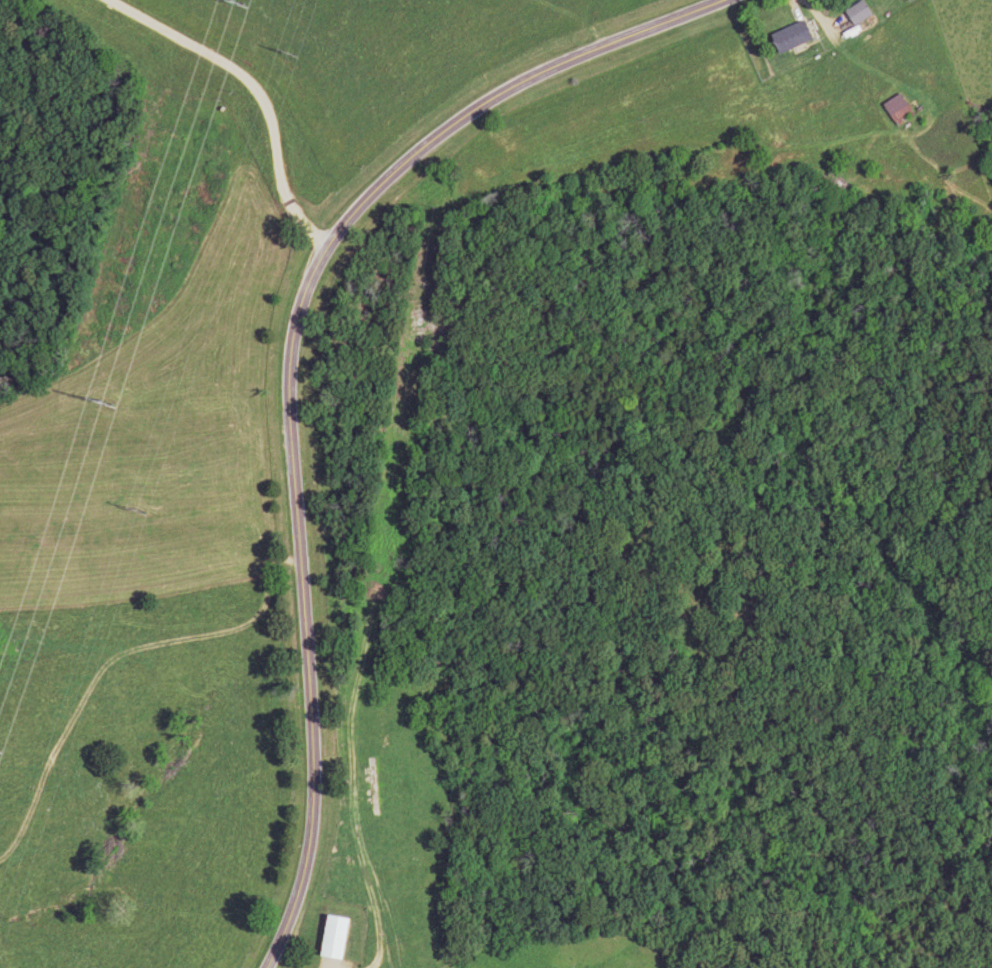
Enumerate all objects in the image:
power tower: (240, 1)
building: (862, 12)
building: (799, 36)
road: (255, 89)
road: (502, 96)
building: (901, 110)
building: (272, 245)
power tower: (107, 403)
road: (299, 608)
building: (340, 936)

